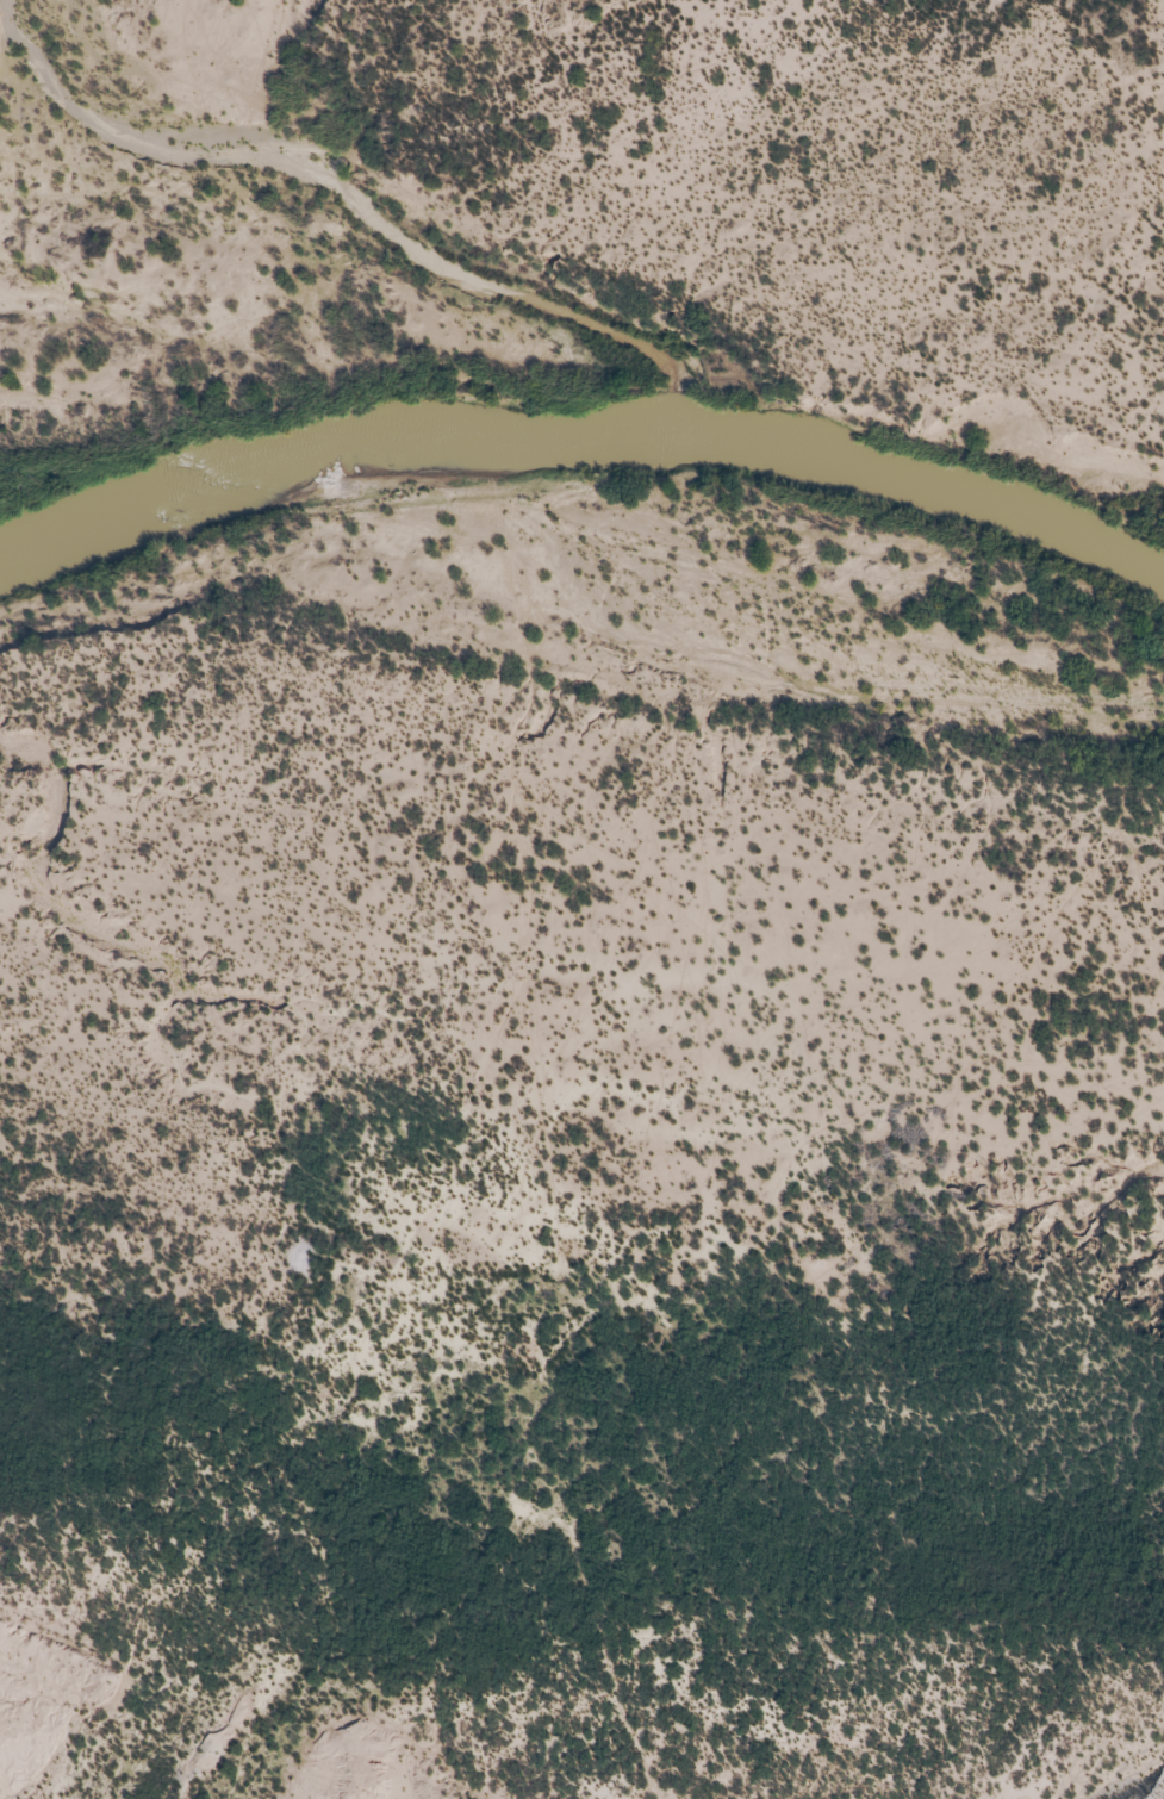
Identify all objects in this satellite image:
river: (589, 421)

